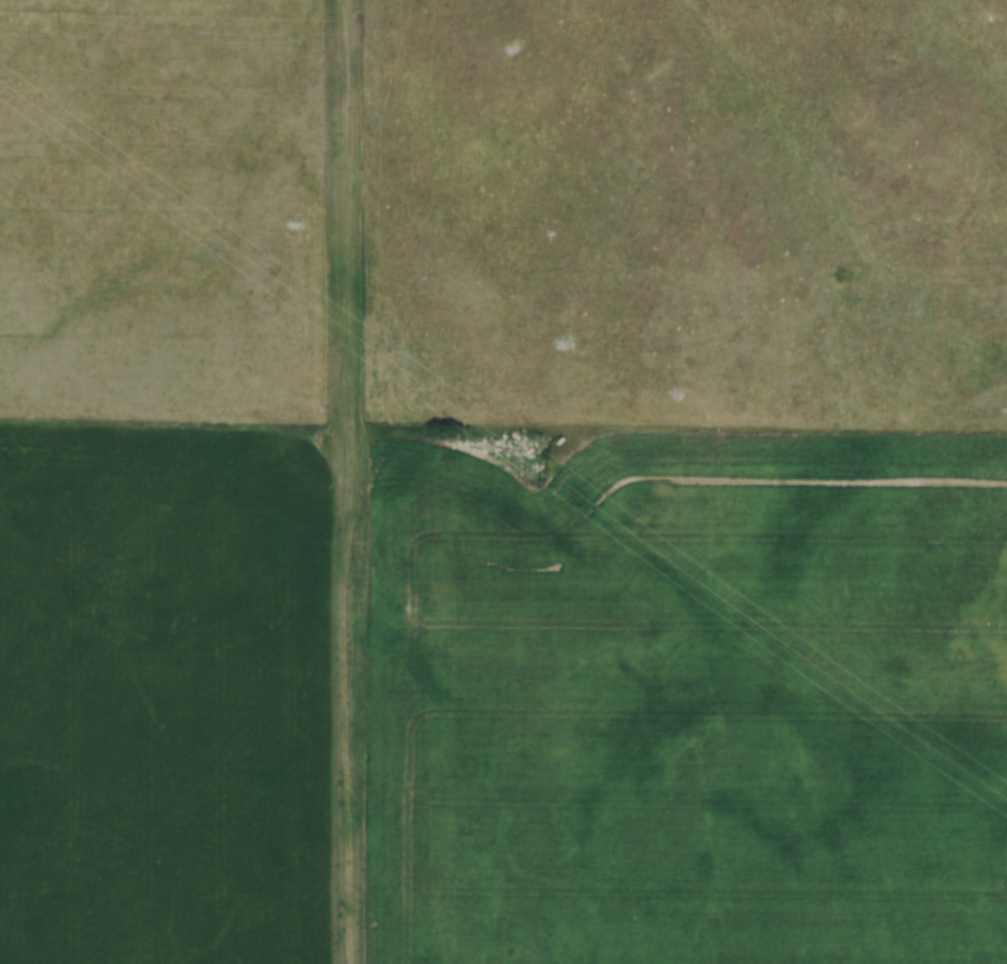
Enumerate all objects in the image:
power tower: (540, 480)
road: (349, 595)

